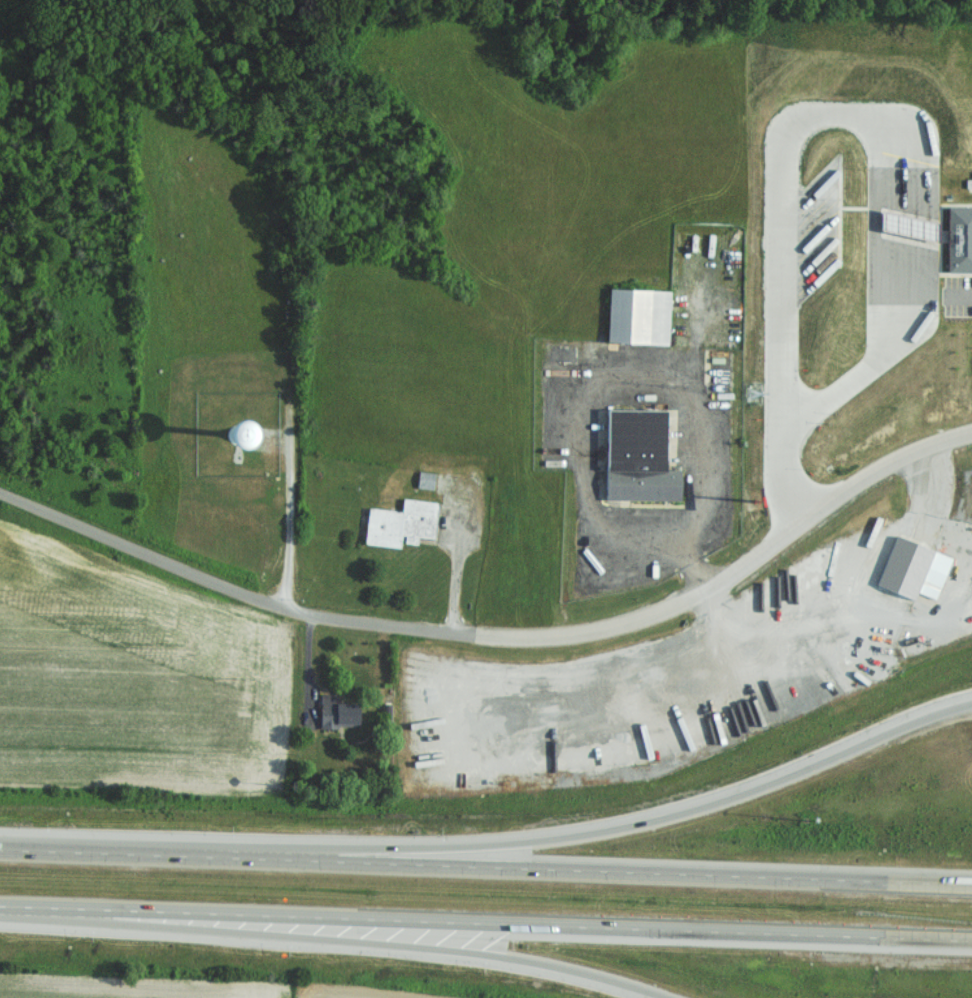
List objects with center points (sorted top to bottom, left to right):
road: (866, 124)
building: (912, 227)
parking lot: (818, 228)
building: (961, 240)
road: (785, 242)
road: (960, 295)
parking lot: (959, 297)
road: (876, 298)
road: (912, 309)
building: (643, 314)
road: (614, 375)
road: (784, 419)
building: (641, 437)
water tower: (240, 440)
building: (647, 482)
building: (430, 483)
building: (406, 523)
road: (942, 534)
road: (457, 561)
road: (698, 565)
building: (923, 570)
road: (500, 633)
road: (871, 636)
crop: (134, 686)
building: (335, 711)
road: (617, 825)
street lamp: (808, 827)
road: (486, 864)
road: (486, 920)
road: (344, 941)
crop: (119, 990)
crop: (345, 995)

